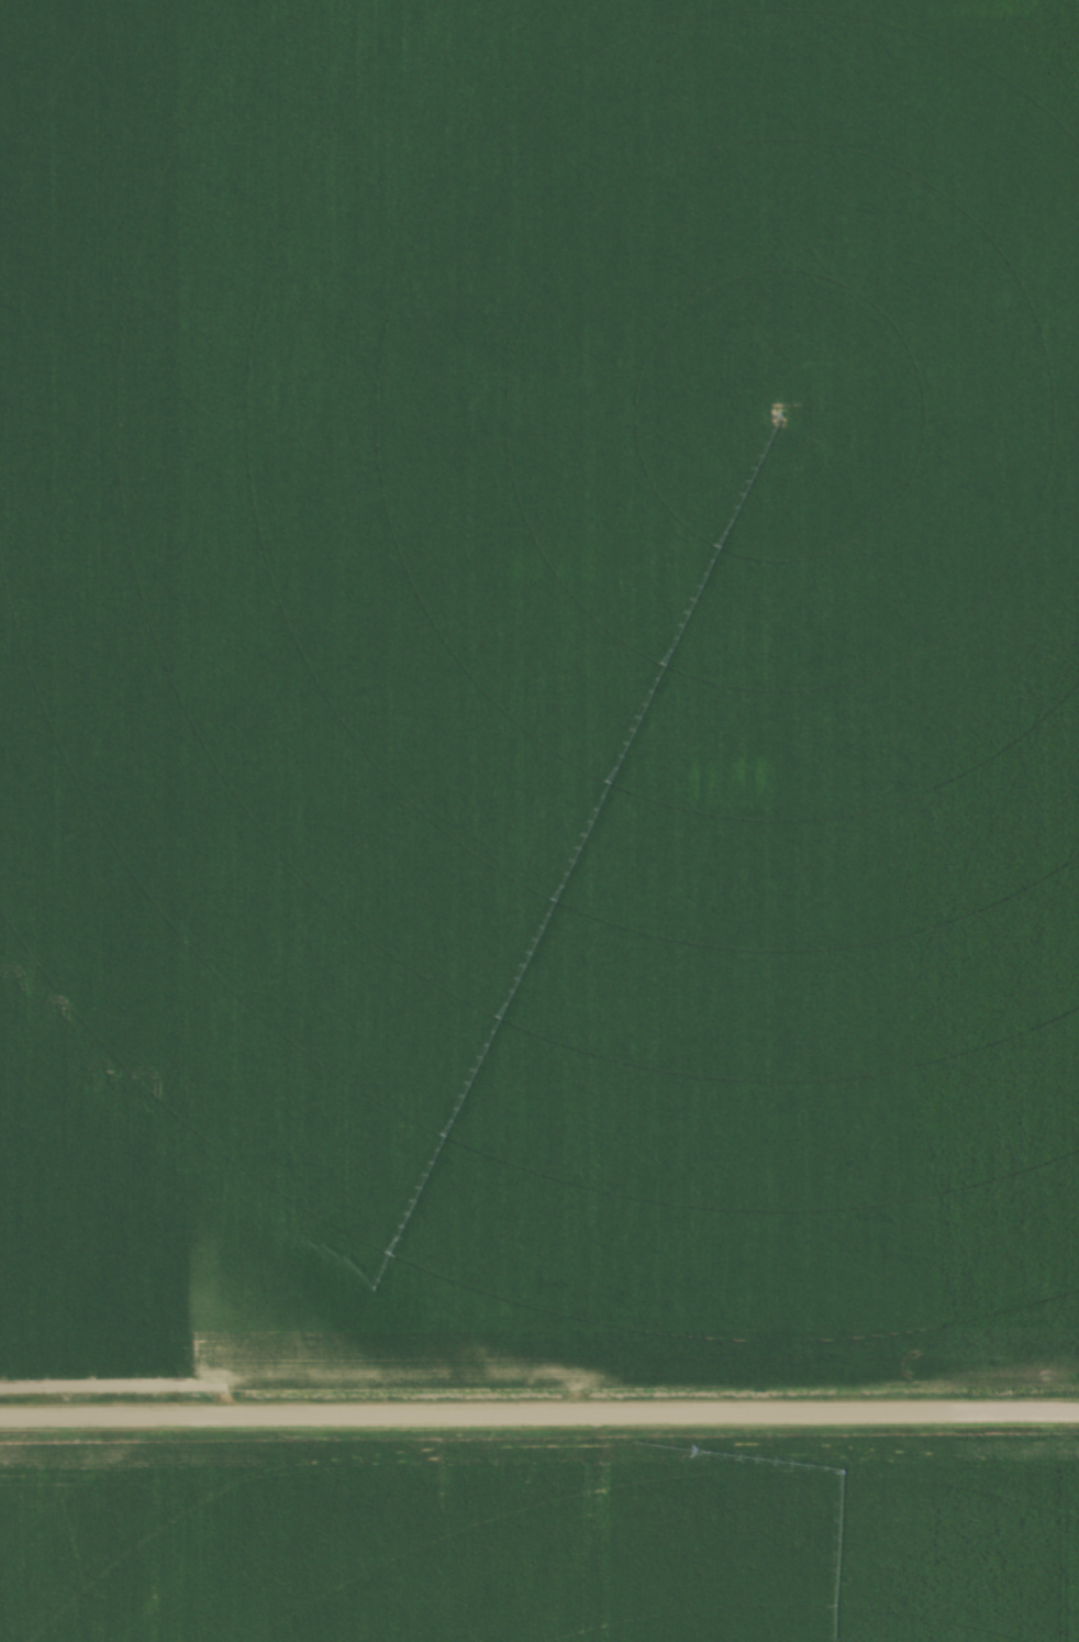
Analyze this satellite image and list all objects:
crop: (538, 691)
road: (539, 1416)
crop: (542, 1539)

